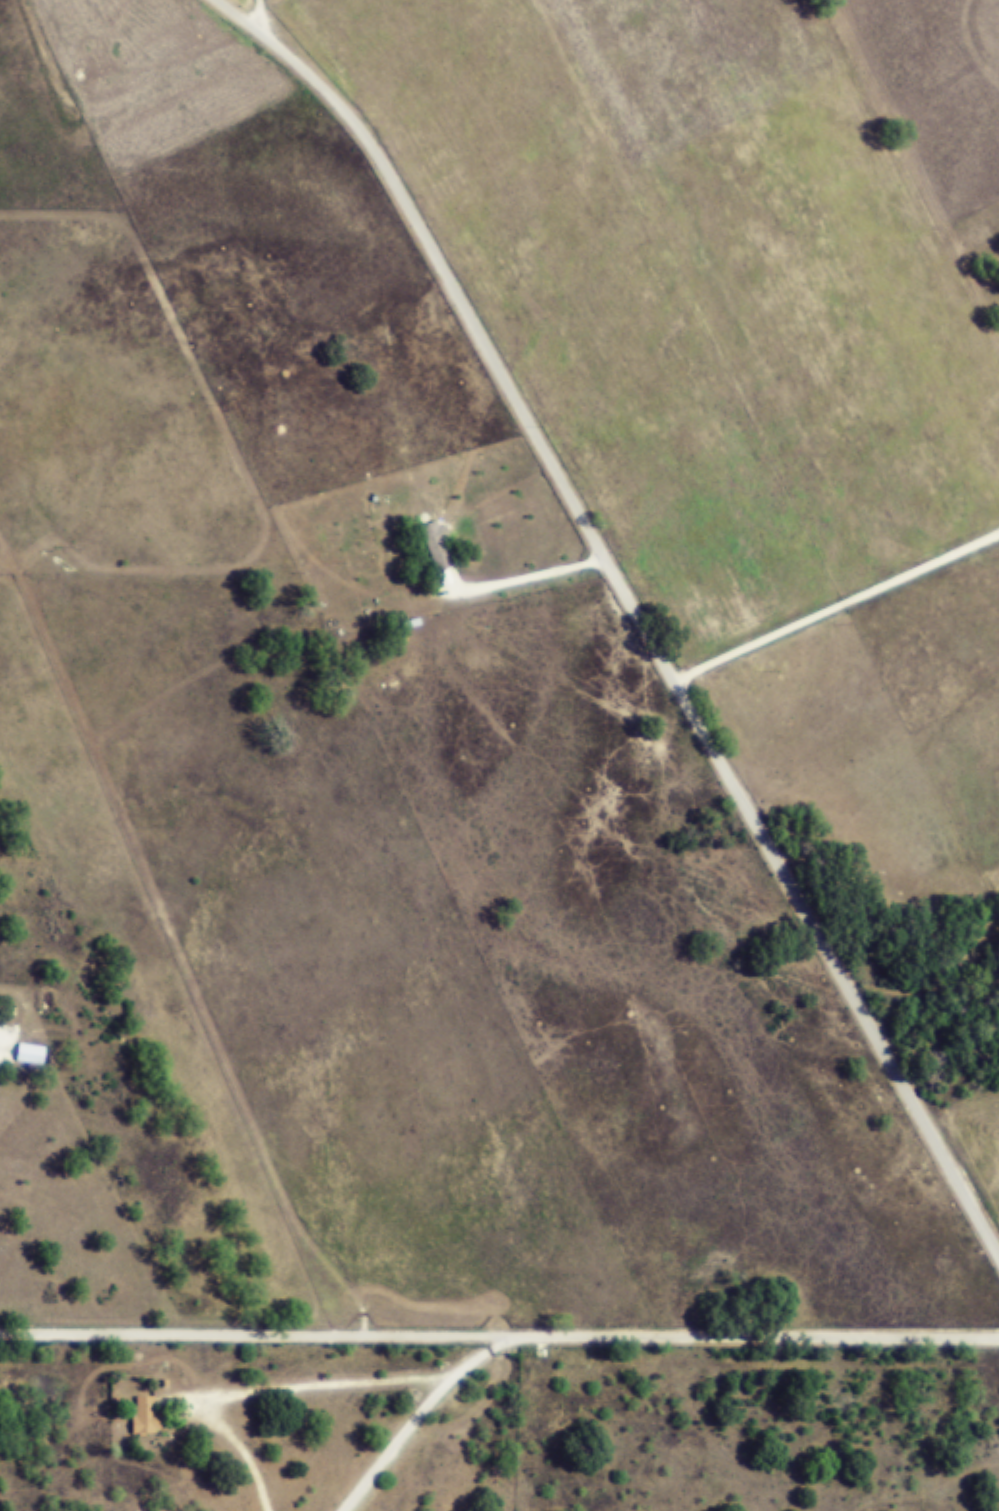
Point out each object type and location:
building: (440, 547)
road: (633, 604)
road: (499, 1332)
road: (421, 1413)
building: (147, 1417)

